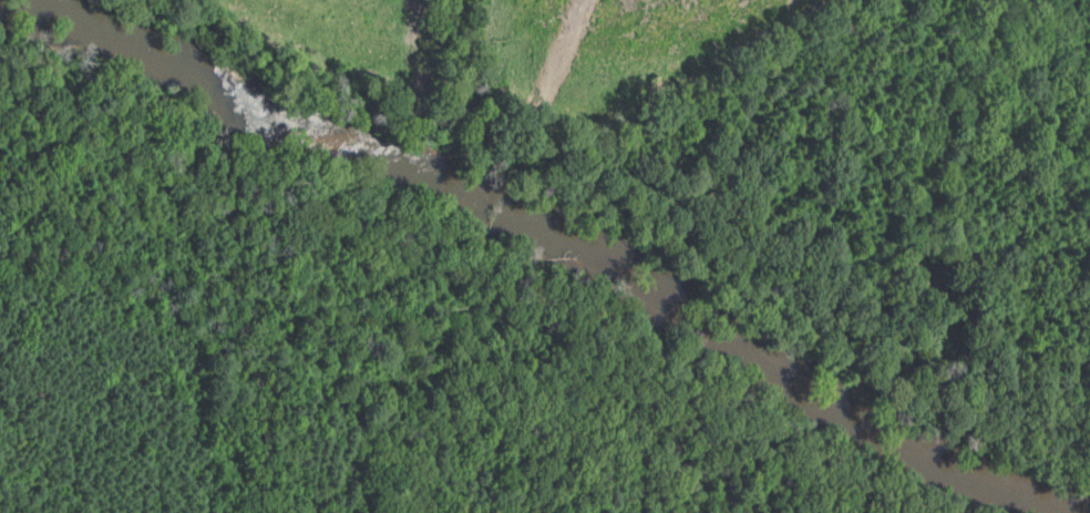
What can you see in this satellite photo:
river: (225, 91)
river: (685, 301)
river: (988, 475)

